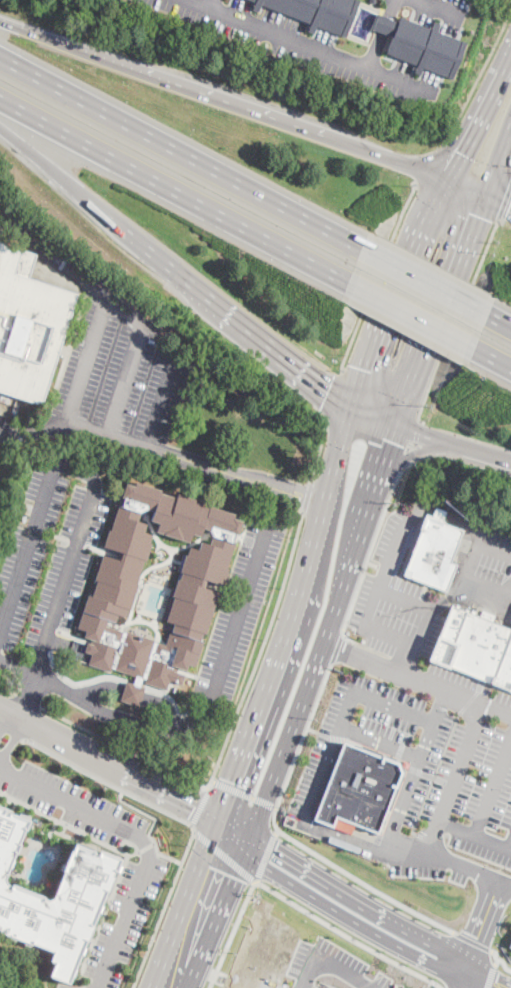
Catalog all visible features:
building: (373, 0)
parking lot: (505, 0)
road: (213, 4)
road: (440, 8)
building: (316, 12)
parking lot: (431, 12)
road: (381, 34)
building: (421, 45)
parking lot: (307, 46)
road: (310, 46)
road: (475, 82)
road: (243, 106)
road: (479, 118)
road: (181, 149)
traffic signals: (462, 152)
road: (438, 155)
road: (44, 162)
road: (423, 163)
road: (498, 163)
road: (173, 194)
road: (499, 198)
road: (504, 201)
traffic signals: (510, 204)
traffic signals: (477, 215)
building: (0, 227)
road: (69, 272)
road: (377, 274)
road: (427, 277)
road: (397, 293)
road: (216, 307)
road: (437, 310)
road: (501, 317)
road: (411, 318)
road: (456, 319)
building: (28, 323)
road: (494, 358)
road: (82, 360)
traffic signals: (367, 370)
parking lot: (119, 372)
road: (120, 380)
traffic signals: (326, 393)
road: (331, 397)
road: (157, 402)
road: (70, 425)
road: (402, 431)
traffic signals: (387, 438)
road: (415, 440)
road: (320, 452)
road: (483, 455)
road: (187, 460)
parking lot: (0, 465)
road: (398, 466)
road: (278, 486)
road: (307, 494)
road: (323, 500)
building: (442, 526)
road: (374, 536)
road: (26, 545)
road: (495, 548)
road: (71, 554)
parking lot: (48, 557)
road: (389, 557)
road: (349, 558)
building: (431, 558)
road: (376, 565)
building: (167, 567)
road: (469, 568)
building: (195, 594)
road: (450, 597)
road: (406, 598)
parking lot: (240, 601)
building: (448, 635)
building: (478, 646)
road: (336, 649)
road: (260, 650)
road: (405, 659)
road: (374, 663)
road: (17, 665)
building: (504, 668)
road: (7, 689)
road: (130, 692)
road: (468, 697)
road: (27, 699)
road: (207, 702)
road: (395, 707)
road: (18, 710)
parking lot: (424, 713)
road: (253, 722)
road: (12, 730)
road: (321, 733)
road: (380, 744)
road: (299, 745)
road: (124, 747)
road: (99, 757)
road: (329, 757)
road: (417, 769)
road: (271, 778)
road: (452, 778)
traffic signals: (233, 781)
road: (110, 782)
road: (495, 784)
building: (358, 787)
road: (243, 792)
traffic signals: (195, 803)
road: (200, 805)
road: (227, 812)
road: (150, 815)
road: (219, 828)
road: (473, 830)
road: (276, 831)
road: (142, 840)
road: (146, 846)
road: (119, 849)
traffic signals: (275, 850)
road: (132, 851)
road: (402, 851)
road: (223, 857)
road: (265, 857)
road: (178, 860)
traffic signals: (215, 868)
parking lot: (140, 878)
road: (507, 881)
road: (364, 883)
building: (55, 899)
road: (358, 902)
road: (163, 909)
road: (350, 918)
road: (193, 921)
road: (484, 924)
road: (230, 934)
road: (347, 936)
road: (473, 941)
building: (510, 945)
road: (501, 959)
road: (496, 961)
road: (331, 965)
road: (490, 976)
road: (466, 979)
road: (487, 980)

